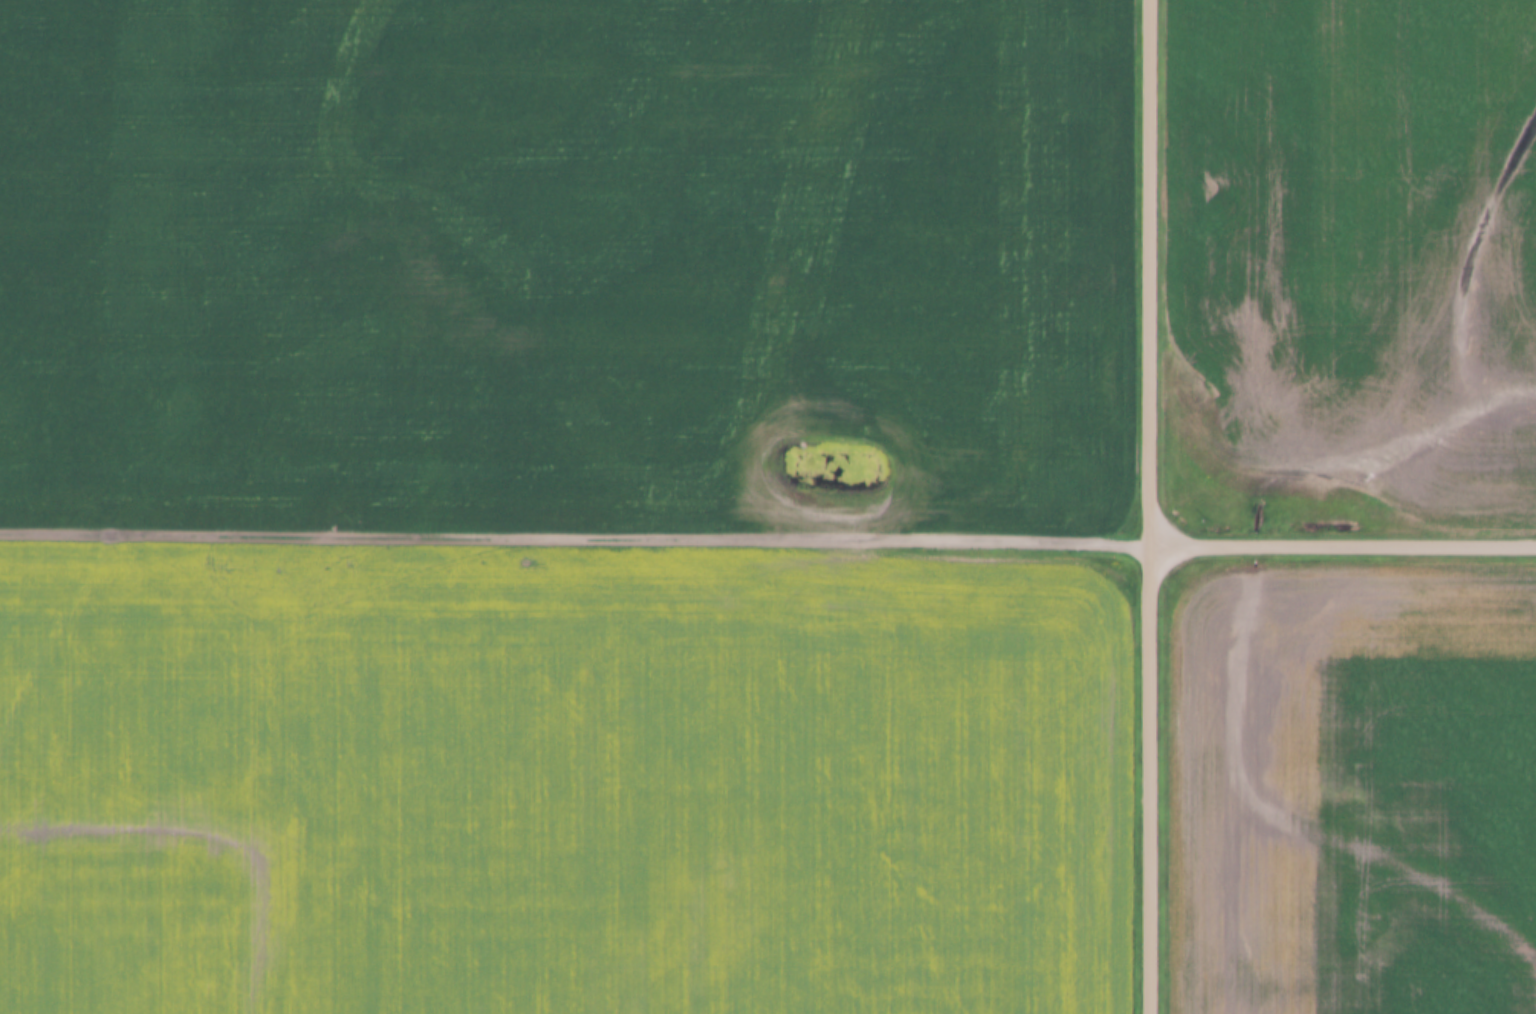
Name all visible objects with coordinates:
road: (1157, 507)
road: (578, 536)
road: (1346, 542)

